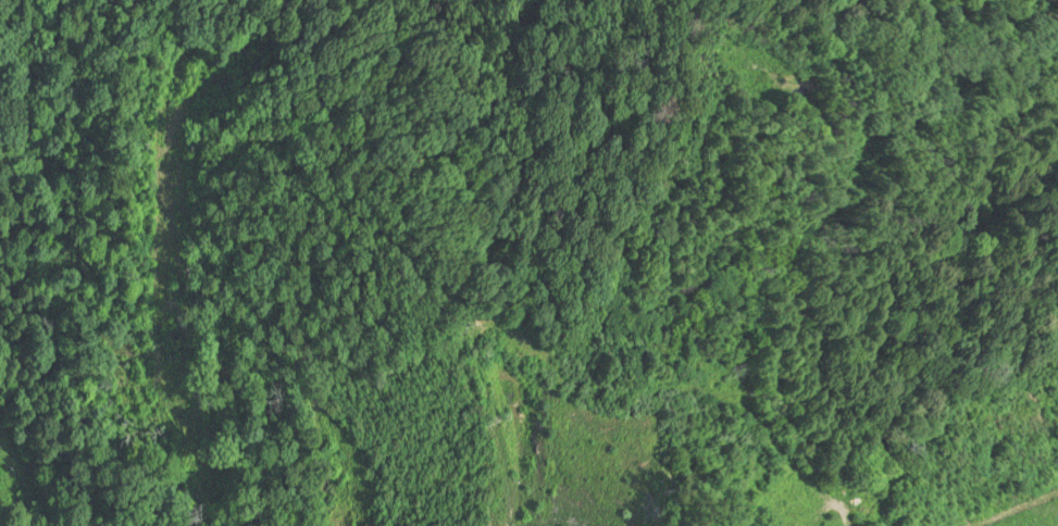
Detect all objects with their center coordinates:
road: (121, 259)
quarry: (642, 472)

